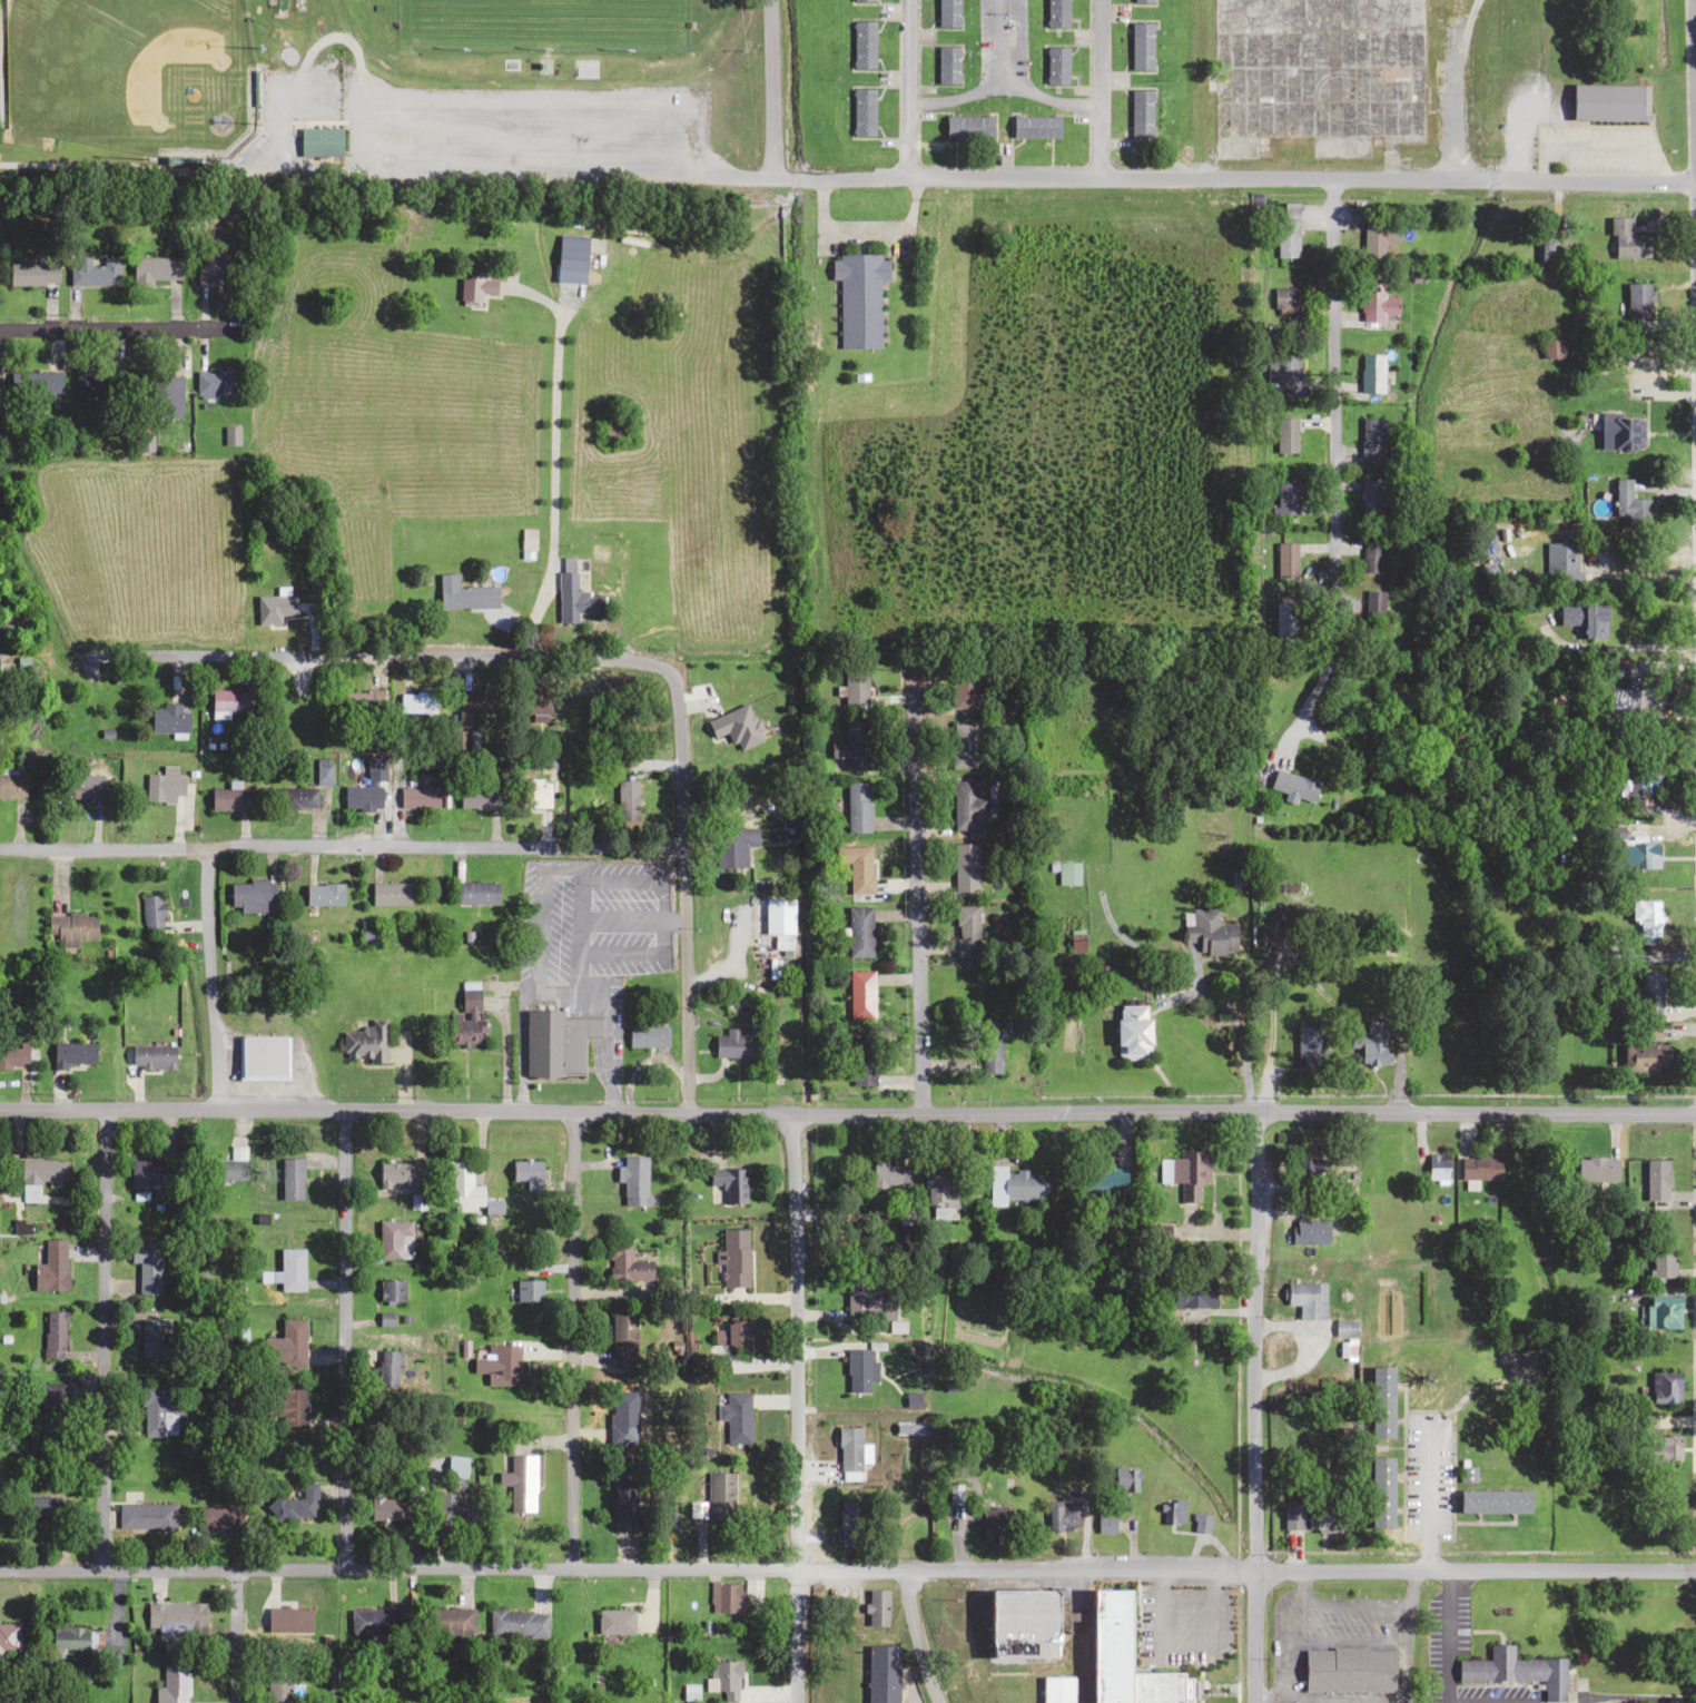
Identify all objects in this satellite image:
building: (864, 0)
building: (1141, 1)
building: (948, 12)
building: (1056, 13)
road: (998, 41)
building: (862, 45)
building: (1141, 46)
road: (1695, 60)
building: (947, 65)
building: (1056, 65)
park: (129, 75)
building: (1317, 75)
road: (1003, 83)
road: (1100, 86)
road: (907, 87)
building: (1607, 102)
building: (861, 112)
building: (1141, 112)
building: (1035, 126)
building: (968, 127)
building: (319, 141)
road: (1302, 173)
building: (1286, 238)
building: (1627, 240)
building: (571, 259)
building: (156, 269)
building: (93, 270)
building: (214, 270)
building: (26, 274)
building: (859, 298)
building: (1284, 299)
building: (1638, 299)
building: (1378, 303)
road: (115, 328)
building: (1552, 348)
building: (1283, 370)
building: (1371, 373)
building: (37, 382)
building: (214, 383)
building: (87, 384)
building: (157, 398)
road: (1331, 403)
building: (1620, 432)
building: (1285, 435)
building: (230, 436)
building: (1371, 437)
building: (144, 440)
building: (1285, 498)
building: (1370, 498)
building: (1629, 502)
building: (526, 543)
building: (1558, 553)
building: (1370, 557)
building: (568, 561)
building: (1285, 561)
building: (464, 593)
building: (573, 599)
building: (1372, 603)
building: (1582, 617)
building: (13, 620)
building: (270, 622)
road: (378, 654)
building: (855, 683)
building: (963, 686)
building: (1628, 695)
building: (366, 697)
building: (228, 699)
road: (1303, 700)
building: (541, 703)
building: (474, 706)
building: (168, 718)
building: (962, 742)
building: (855, 744)
building: (323, 770)
building: (12, 785)
building: (166, 785)
building: (1294, 786)
building: (82, 787)
building: (367, 787)
building: (536, 793)
building: (477, 794)
building: (298, 795)
building: (420, 796)
building: (229, 798)
building: (627, 798)
building: (967, 804)
building: (856, 806)
road: (339, 844)
building: (732, 845)
building: (1640, 854)
building: (965, 865)
building: (858, 868)
building: (1066, 872)
building: (474, 892)
road: (680, 892)
building: (390, 893)
building: (324, 894)
building: (253, 895)
building: (152, 914)
building: (777, 916)
building: (1645, 917)
road: (914, 923)
building: (71, 925)
building: (966, 929)
building: (859, 931)
building: (1206, 932)
road: (208, 978)
building: (1646, 991)
building: (860, 994)
building: (470, 1001)
building: (1132, 1031)
building: (647, 1035)
building: (556, 1042)
building: (737, 1042)
building: (1310, 1043)
building: (993, 1044)
building: (1369, 1050)
building: (72, 1053)
building: (12, 1055)
building: (152, 1055)
building: (262, 1055)
building: (1646, 1055)
building: (862, 1061)
road: (847, 1115)
building: (231, 1164)
building: (1437, 1168)
building: (1480, 1168)
building: (1597, 1168)
building: (394, 1171)
building: (885, 1171)
building: (1186, 1171)
building: (527, 1172)
building: (146, 1173)
building: (40, 1174)
building: (292, 1177)
building: (1104, 1178)
building: (1657, 1179)
building: (634, 1180)
building: (730, 1183)
building: (1013, 1184)
building: (461, 1187)
building: (936, 1187)
building: (1310, 1231)
building: (393, 1239)
building: (734, 1258)
building: (1662, 1259)
building: (625, 1263)
building: (146, 1264)
building: (51, 1266)
building: (290, 1269)
building: (527, 1289)
building: (390, 1290)
building: (1199, 1290)
building: (869, 1298)
building: (1306, 1298)
building: (1663, 1310)
building: (53, 1333)
building: (622, 1333)
building: (736, 1333)
building: (152, 1338)
road: (100, 1339)
road: (342, 1339)
road: (571, 1339)
road: (1251, 1341)
building: (288, 1343)
road: (791, 1343)
building: (499, 1364)
building: (387, 1368)
building: (860, 1369)
building: (1665, 1386)
building: (1380, 1401)
building: (47, 1402)
building: (293, 1406)
building: (160, 1410)
building: (622, 1416)
building: (738, 1418)
building: (849, 1448)
building: (1665, 1449)
building: (1124, 1479)
building: (521, 1480)
building: (1380, 1492)
building: (720, 1496)
building: (1493, 1500)
building: (623, 1504)
building: (295, 1505)
building: (46, 1506)
building: (454, 1506)
building: (384, 1507)
building: (1173, 1512)
building: (1292, 1514)
building: (1062, 1515)
building: (147, 1516)
building: (1322, 1517)
building: (219, 1518)
building: (851, 1522)
building: (1200, 1522)
building: (994, 1524)
building: (1105, 1525)
road: (847, 1571)
building: (730, 1596)
building: (877, 1606)
building: (177, 1618)
building: (374, 1621)
building: (614, 1621)
building: (447, 1622)
building: (516, 1623)
building: (1022, 1623)
building: (8, 1636)
road: (234, 1636)
road: (1252, 1636)
road: (795, 1637)
building: (73, 1638)
building: (1110, 1645)
building: (1349, 1670)
building: (1516, 1670)
building: (882, 1674)
building: (724, 1677)
building: (172, 1684)
building: (1161, 1687)
building: (277, 1689)
building: (1056, 1690)

